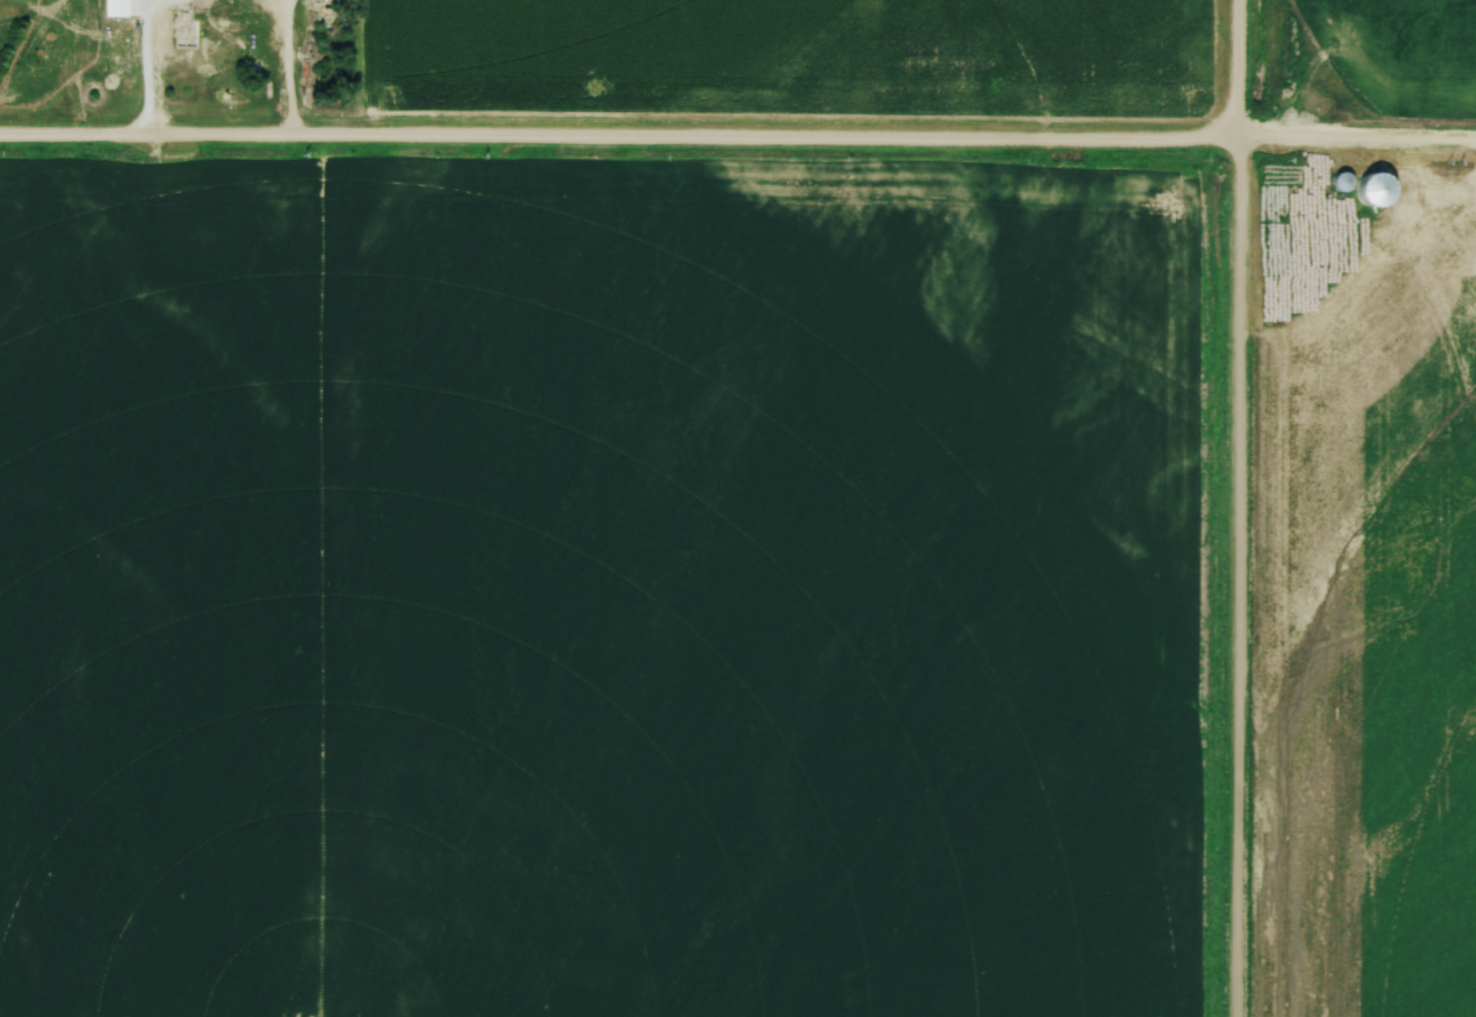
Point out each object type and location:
building: (122, 8)
building: (187, 34)
road: (291, 68)
road: (368, 68)
road: (148, 81)
road: (738, 137)
building: (1343, 182)
road: (1235, 508)

